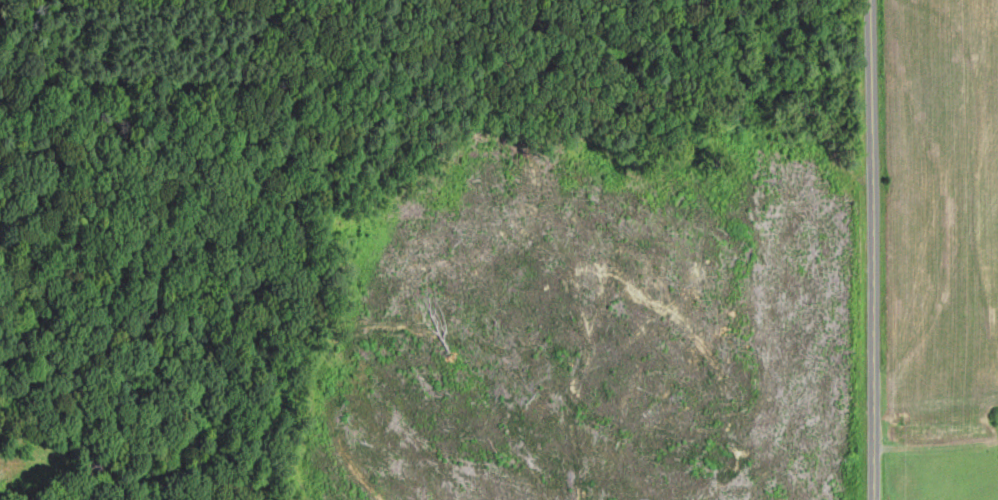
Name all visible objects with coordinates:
road: (874, 250)

